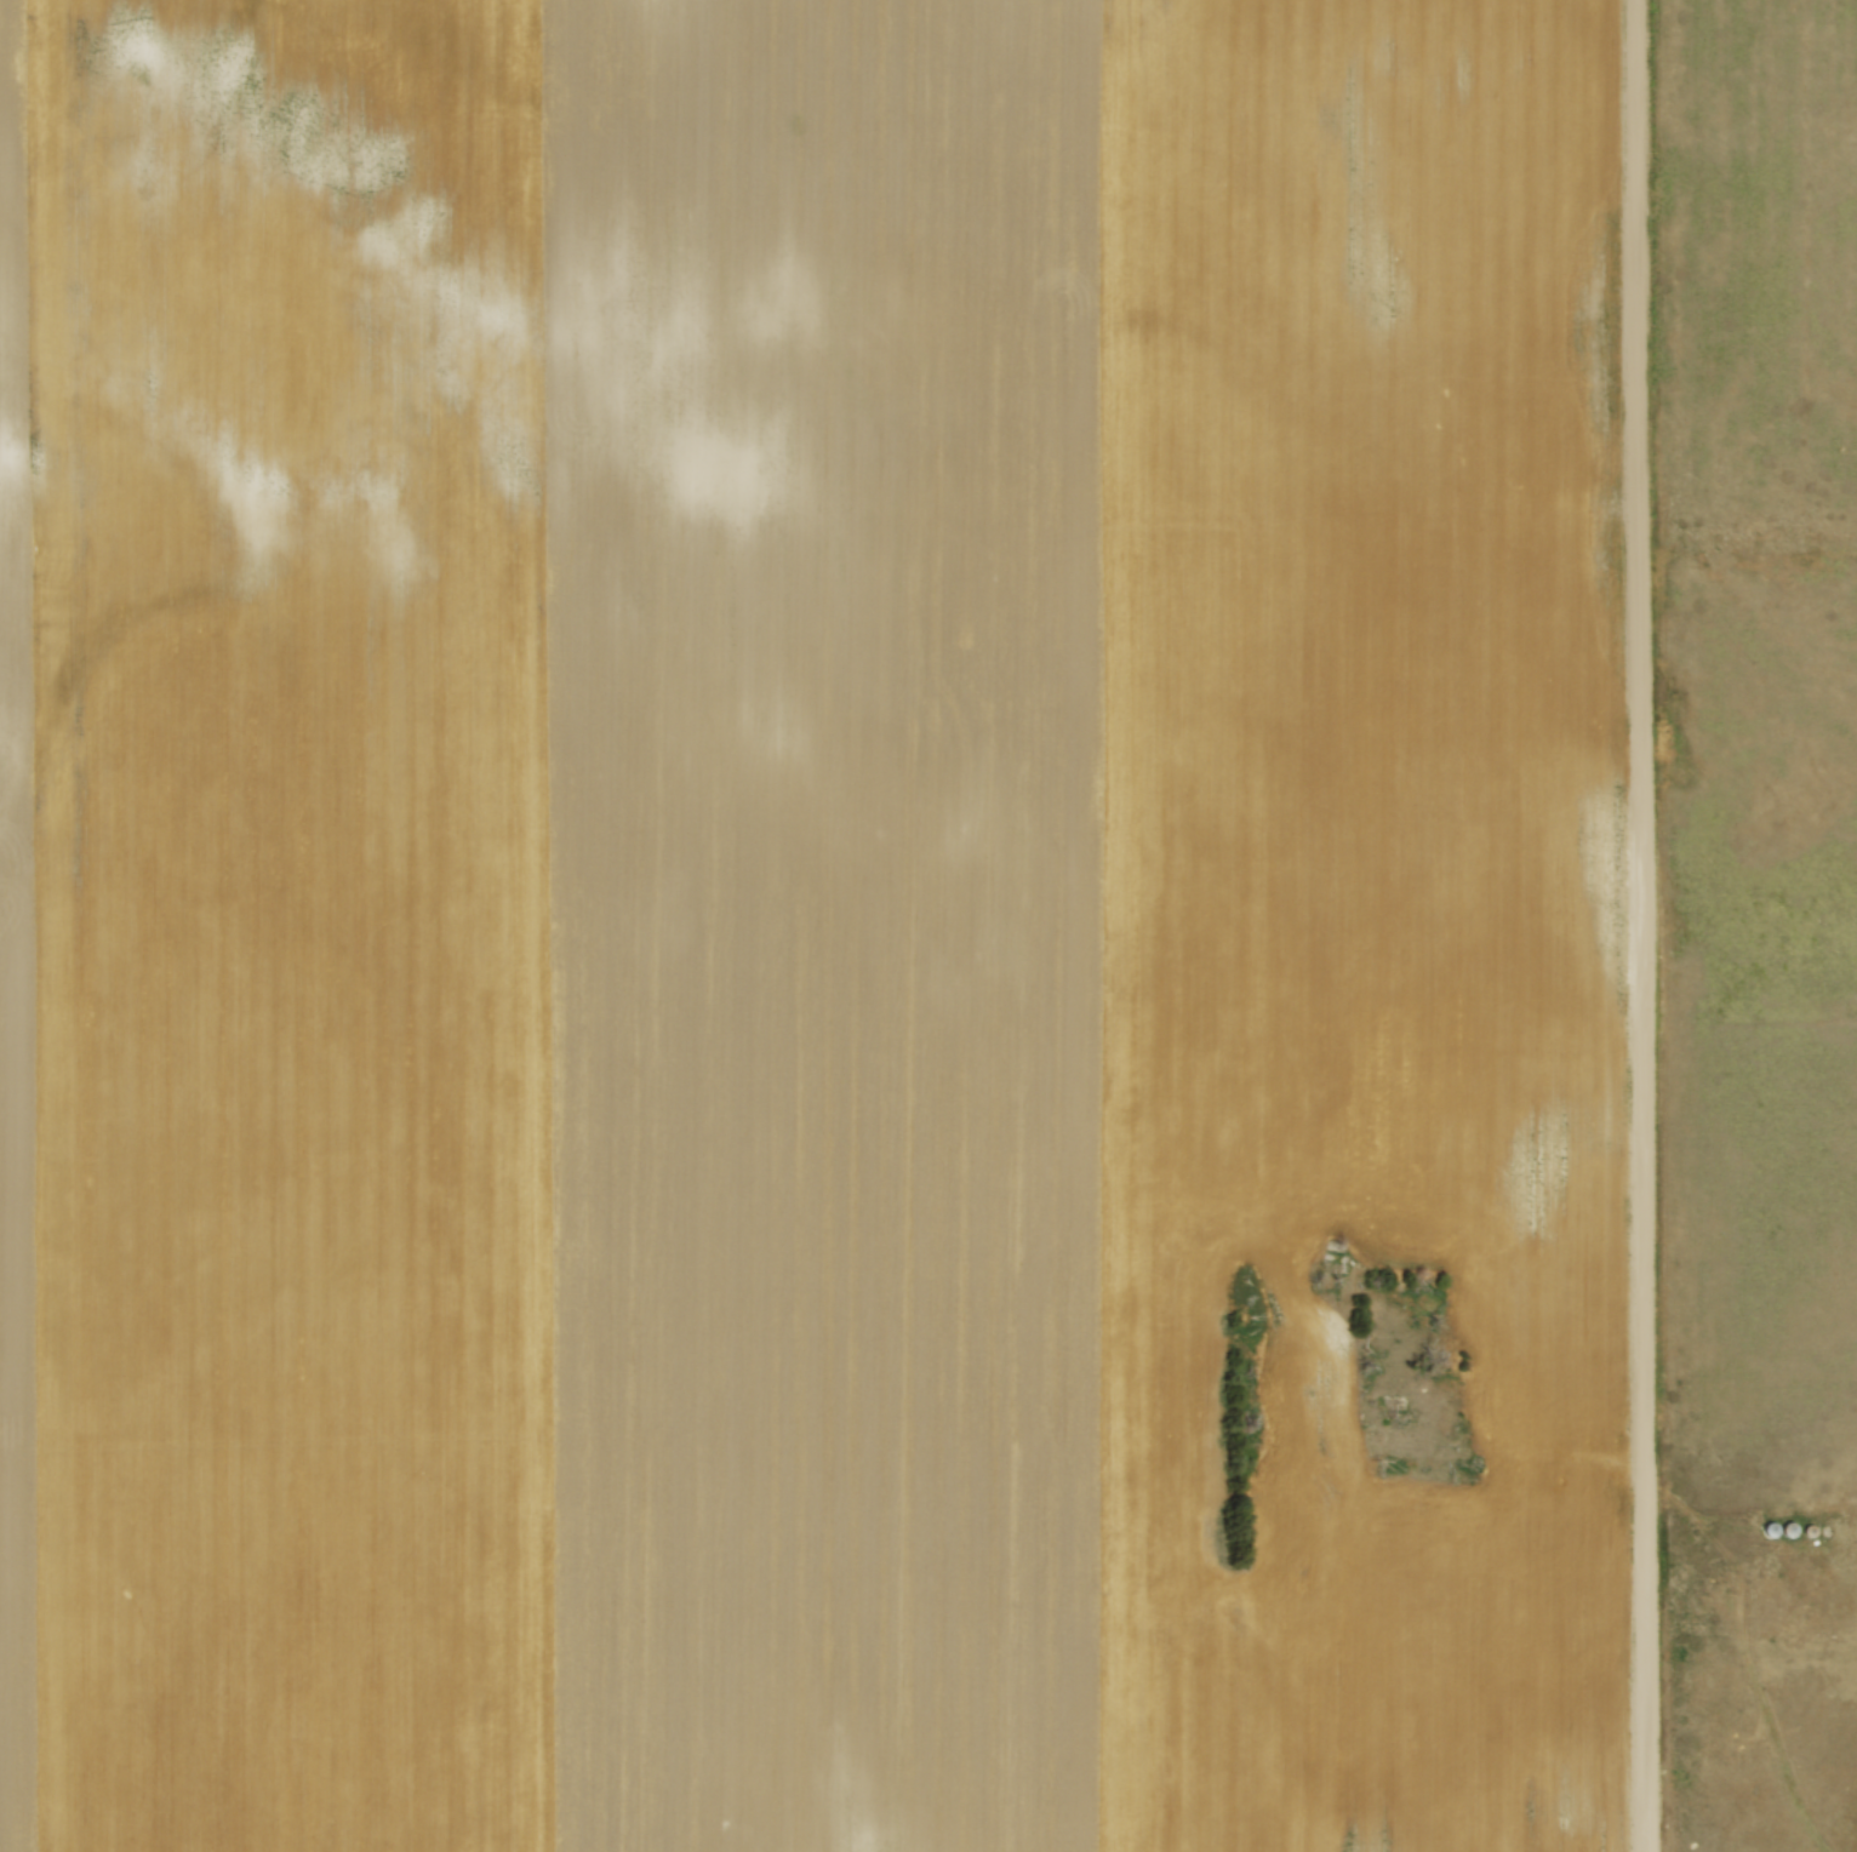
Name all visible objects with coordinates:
crop: (1755, 267)
road: (1640, 926)
crop: (811, 927)

